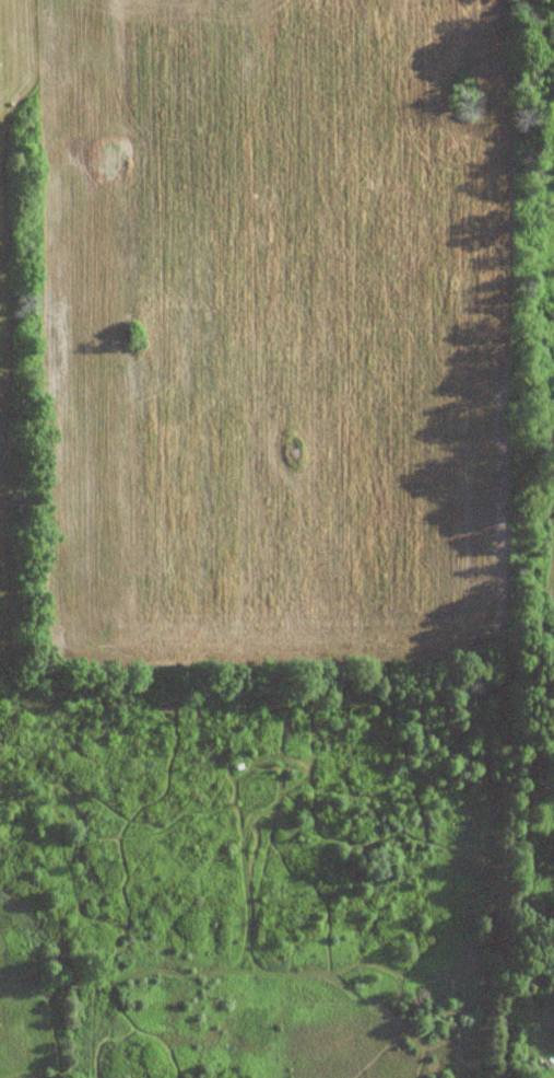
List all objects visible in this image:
building: (543, 434)

